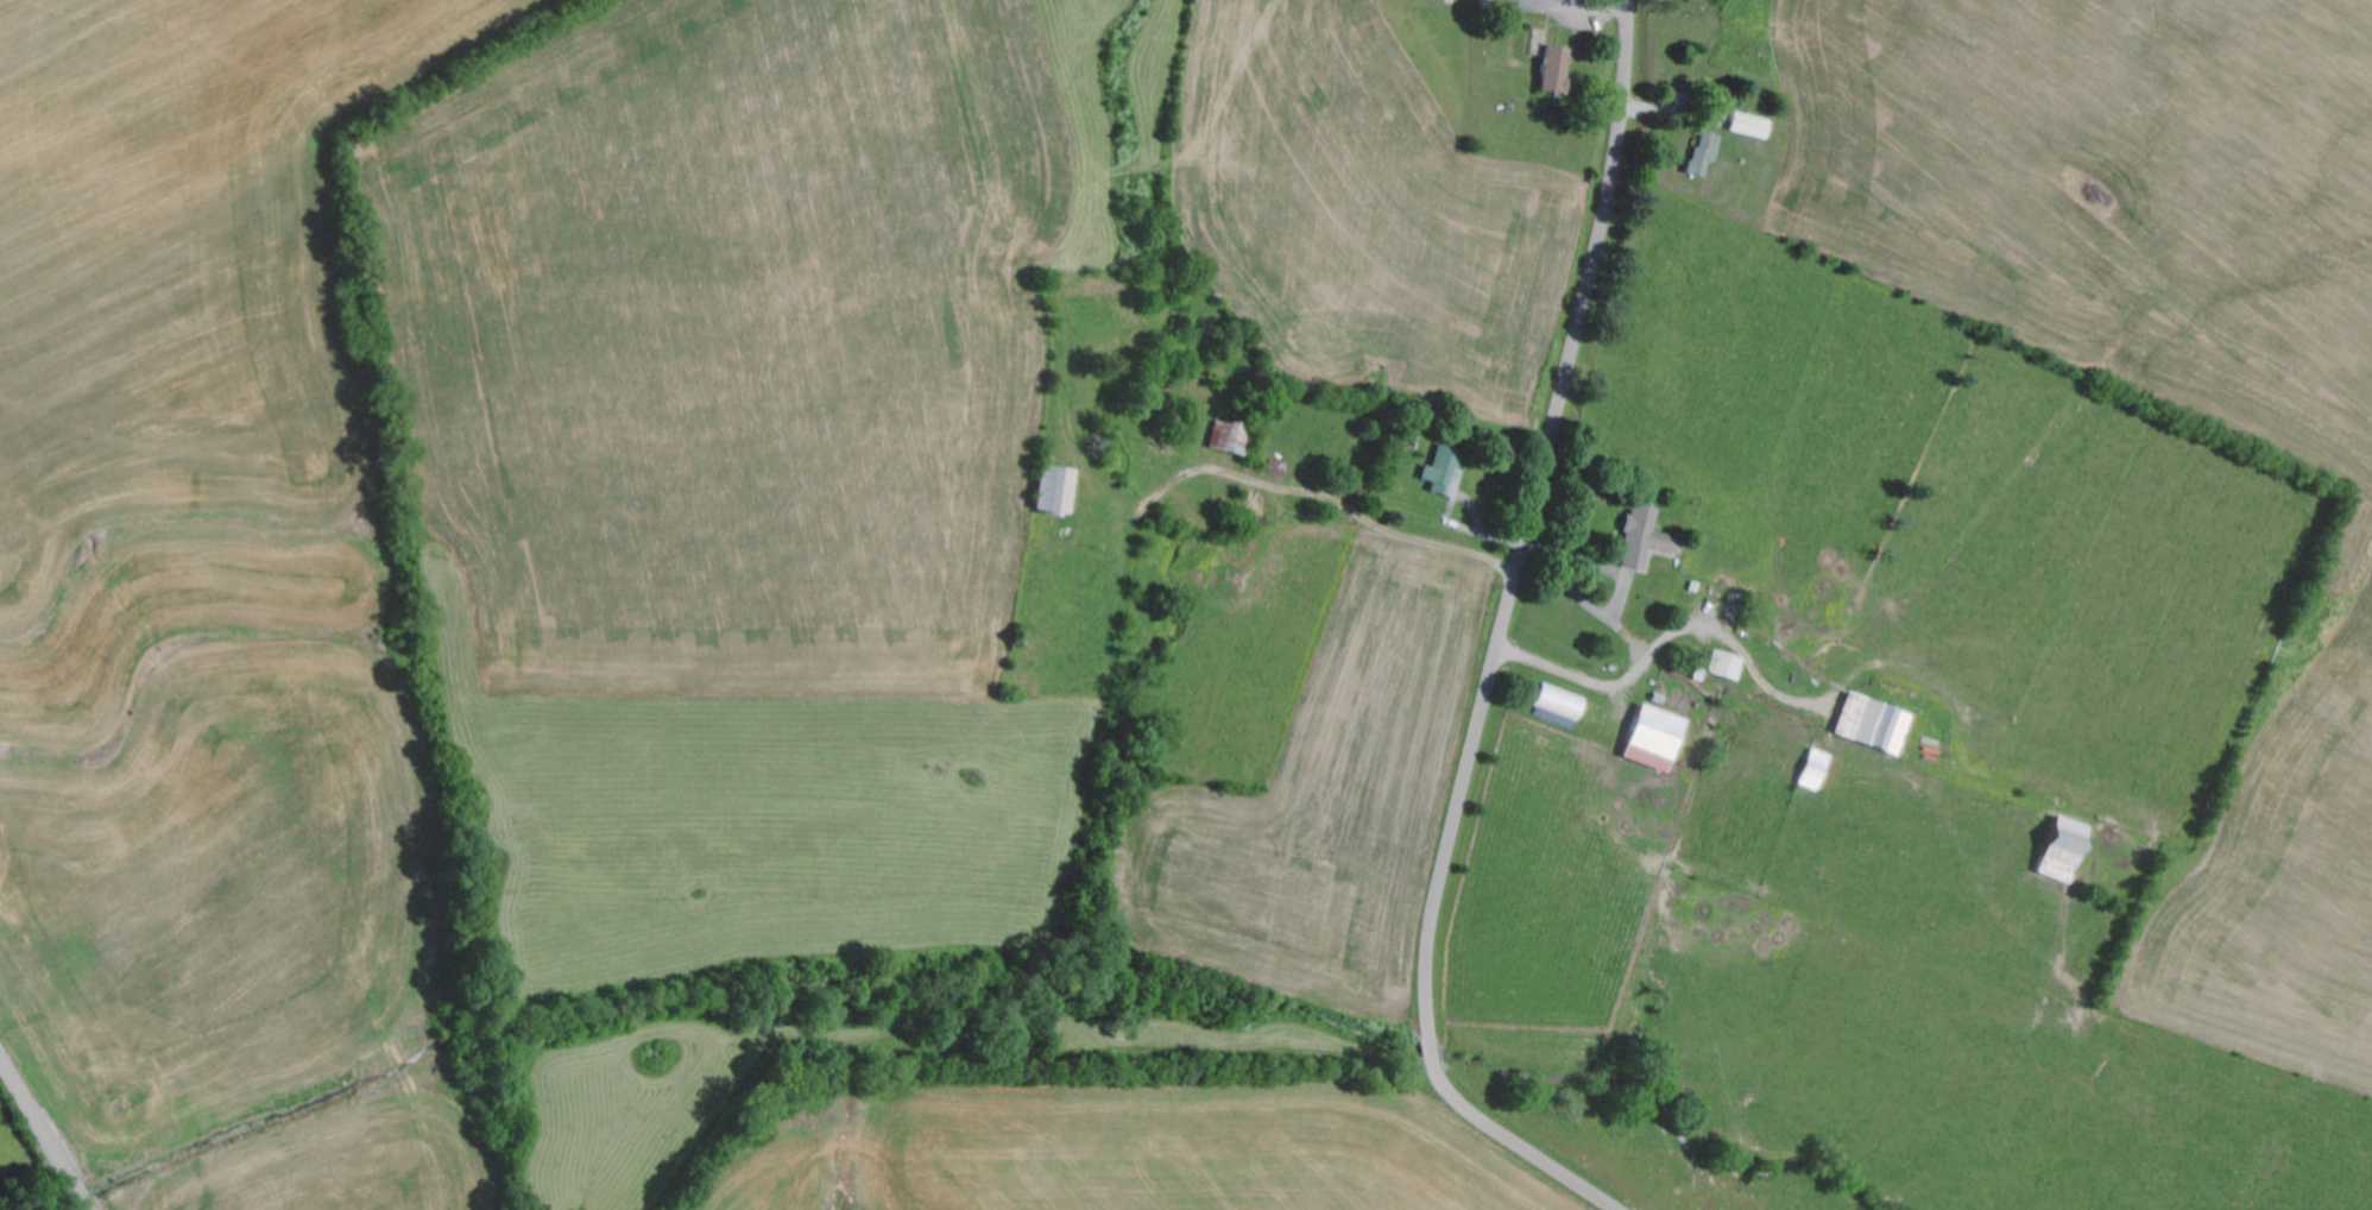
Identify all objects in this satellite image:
building: (1556, 70)
building: (1704, 156)
building: (1234, 439)
building: (1445, 471)
building: (1054, 490)
building: (1646, 538)
road: (1500, 647)
building: (1726, 666)
building: (1874, 724)
building: (1655, 738)
building: (2064, 850)
road: (44, 1133)

